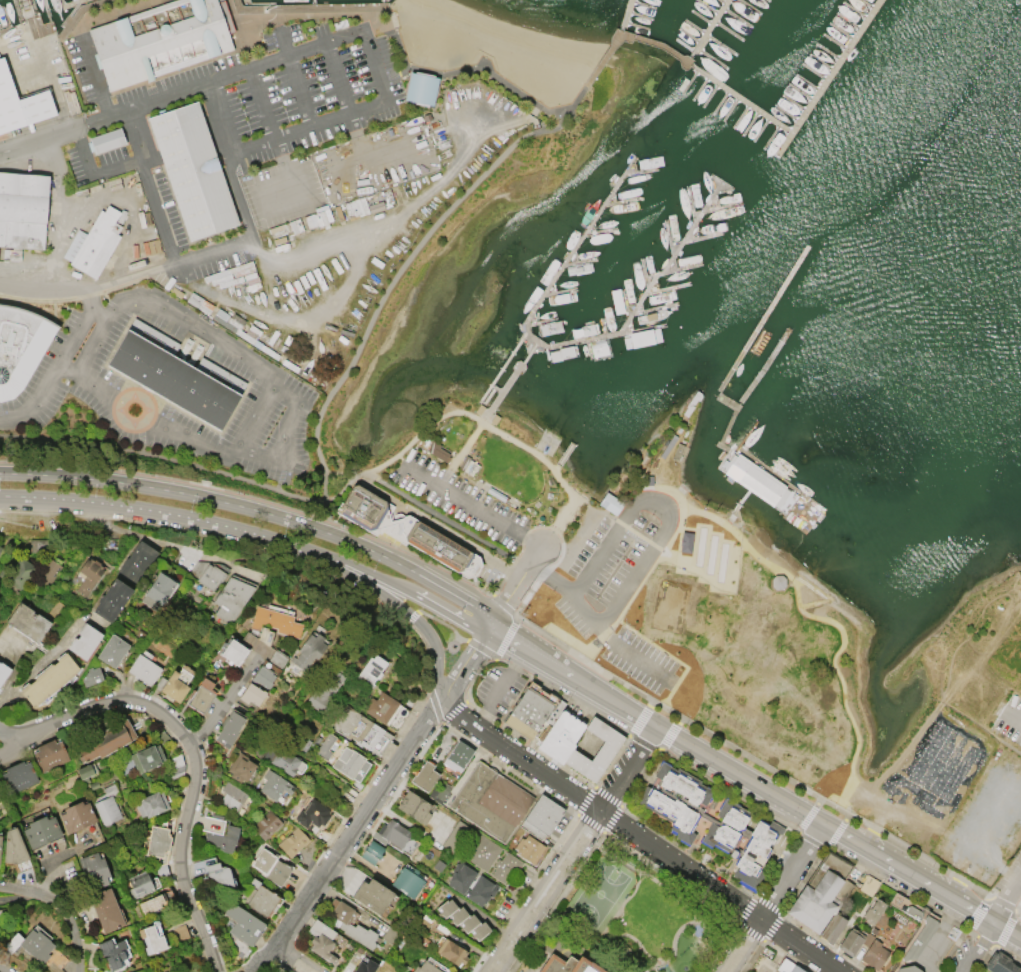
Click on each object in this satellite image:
pier: (312, 1)
pier: (383, 1)
road: (313, 5)
road: (382, 5)
road: (79, 10)
road: (111, 12)
pier: (626, 16)
pier: (705, 31)
building: (158, 40)
road: (401, 52)
road: (392, 74)
road: (91, 75)
road: (376, 76)
road: (336, 77)
pier: (827, 78)
road: (51, 85)
building: (420, 88)
road: (298, 89)
pier: (732, 96)
building: (20, 104)
road: (139, 105)
parking lot: (238, 133)
road: (38, 138)
building: (106, 142)
road: (247, 145)
road: (226, 161)
building: (192, 170)
road: (90, 173)
road: (149, 187)
road: (263, 203)
building: (23, 209)
road: (421, 238)
building: (94, 242)
road: (304, 252)
pier: (571, 253)
road: (127, 278)
road: (98, 313)
building: (235, 325)
pier: (757, 327)
pier: (619, 331)
building: (19, 347)
road: (58, 364)
building: (172, 379)
parking lot: (152, 382)
road: (270, 387)
pier: (748, 391)
road: (498, 433)
pier: (712, 434)
pier: (574, 441)
road: (285, 442)
building: (438, 451)
pier: (716, 451)
road: (458, 454)
road: (162, 458)
road: (401, 461)
pier: (709, 463)
road: (338, 467)
park: (512, 479)
building: (758, 482)
road: (145, 485)
road: (340, 486)
pier: (766, 487)
road: (254, 496)
road: (58, 497)
parking lot: (460, 500)
parking lot: (15, 502)
building: (610, 504)
pier: (739, 504)
road: (472, 507)
road: (597, 510)
parking lot: (164, 519)
road: (204, 520)
road: (444, 521)
building: (405, 530)
road: (211, 536)
road: (573, 541)
parking lot: (586, 541)
building: (685, 541)
building: (79, 544)
road: (167, 544)
park: (700, 545)
building: (0, 547)
building: (38, 547)
road: (363, 547)
park: (711, 554)
road: (647, 555)
parking lot: (303, 561)
road: (347, 561)
road: (594, 561)
building: (137, 562)
park: (722, 562)
road: (693, 569)
building: (48, 572)
building: (18, 573)
building: (208, 573)
building: (89, 574)
road: (522, 575)
road: (551, 581)
building: (158, 593)
building: (232, 598)
road: (390, 598)
building: (112, 599)
road: (464, 600)
road: (325, 603)
road: (502, 604)
parking lot: (585, 605)
park: (669, 605)
road: (443, 611)
road: (495, 613)
road: (514, 615)
road: (411, 616)
road: (821, 618)
building: (276, 621)
building: (28, 622)
road: (443, 622)
road: (498, 629)
road: (482, 633)
road: (970, 633)
road: (505, 637)
park: (728, 637)
railway: (591, 640)
building: (85, 641)
road: (481, 647)
building: (113, 650)
road: (625, 650)
building: (234, 651)
building: (308, 653)
road: (586, 653)
road: (428, 655)
road: (550, 661)
road: (460, 668)
building: (144, 669)
building: (270, 669)
building: (372, 671)
building: (3, 672)
road: (472, 675)
building: (92, 676)
building: (49, 680)
building: (175, 682)
road: (500, 686)
building: (327, 689)
parking lot: (498, 689)
building: (252, 694)
building: (201, 695)
building: (409, 696)
road: (439, 699)
road: (447, 699)
road: (225, 702)
building: (387, 710)
building: (533, 710)
road: (1013, 717)
road: (440, 720)
road: (980, 726)
parking lot: (1011, 726)
building: (230, 728)
building: (362, 730)
building: (560, 735)
road: (12, 737)
building: (162, 737)
building: (106, 741)
building: (317, 742)
building: (304, 743)
building: (328, 746)
road: (12, 747)
building: (597, 751)
building: (50, 754)
road: (707, 756)
building: (147, 757)
building: (459, 757)
building: (282, 759)
road: (524, 761)
building: (348, 763)
building: (176, 767)
building: (241, 767)
road: (625, 768)
road: (194, 769)
building: (86, 772)
building: (19, 776)
building: (426, 777)
road: (385, 780)
building: (276, 786)
building: (441, 793)
building: (232, 796)
building: (492, 802)
road: (834, 803)
building: (151, 804)
building: (108, 806)
building: (415, 807)
building: (77, 816)
building: (314, 816)
building: (543, 817)
building: (712, 821)
building: (268, 825)
building: (42, 831)
building: (221, 832)
building: (457, 836)
building: (397, 837)
building: (1013, 838)
building: (158, 841)
building: (294, 842)
building: (0, 847)
building: (14, 847)
building: (530, 849)
building: (373, 852)
building: (483, 852)
parking lot: (1017, 859)
building: (440, 865)
road: (678, 866)
building: (272, 867)
building: (507, 868)
building: (162, 870)
building: (94, 871)
road: (789, 872)
railway: (1000, 872)
building: (219, 874)
road: (320, 877)
building: (462, 877)
road: (921, 881)
road: (1019, 881)
building: (409, 883)
building: (140, 885)
building: (868, 885)
parking lot: (1004, 885)
building: (482, 891)
road: (547, 892)
building: (821, 894)
park: (597, 896)
building: (260, 898)
building: (375, 898)
road: (1007, 899)
building: (156, 903)
building: (447, 908)
road: (60, 909)
building: (106, 909)
building: (873, 909)
building: (912, 912)
building: (458, 915)
park: (625, 918)
building: (469, 923)
building: (244, 924)
building: (349, 924)
building: (832, 928)
building: (480, 931)
building: (180, 932)
building: (391, 935)
road: (279, 936)
building: (918, 937)
building: (153, 938)
road: (929, 939)
building: (852, 940)
building: (323, 941)
building: (29, 944)
road: (741, 946)
road: (796, 946)
road: (977, 947)
building: (452, 951)
building: (112, 952)
building: (875, 954)
road: (291, 959)
building: (1000, 963)
building: (563, 965)
building: (784, 966)
building: (367, 967)
road: (248, 968)
building: (427, 968)
building: (907, 968)
building: (795, 969)

